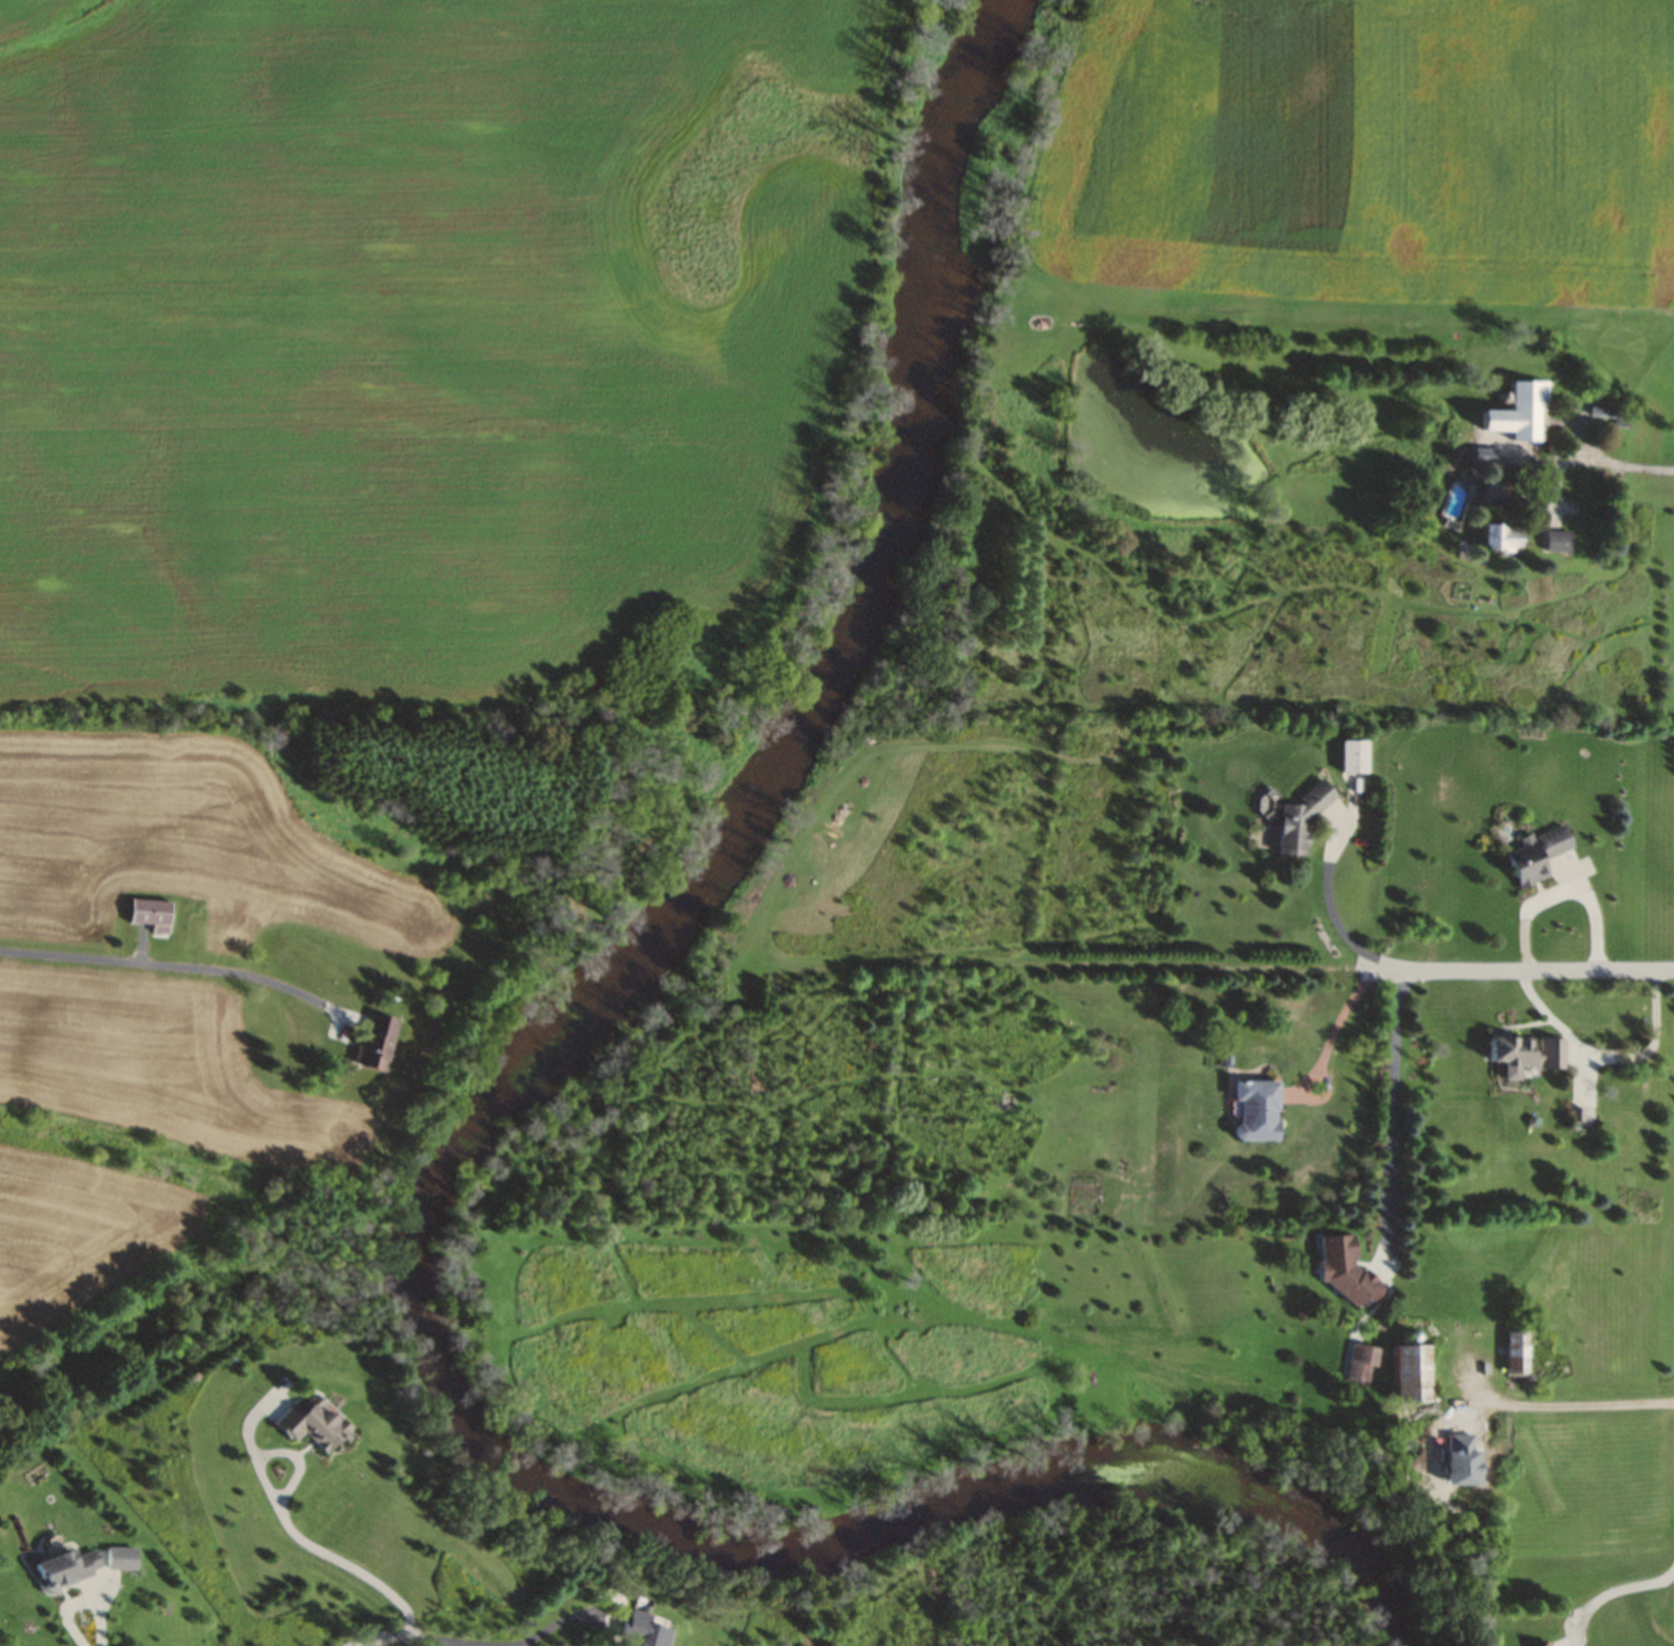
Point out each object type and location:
building: (1520, 410)
building: (1483, 454)
road: (1631, 460)
building: (1501, 536)
building: (1557, 539)
building: (1354, 755)
building: (1300, 819)
building: (1537, 853)
road: (1326, 888)
building: (151, 912)
road: (161, 964)
road: (1523, 966)
building: (376, 1043)
building: (1527, 1054)
building: (1257, 1109)
road: (1390, 1119)
building: (1579, 1120)
river: (447, 1154)
building: (1344, 1270)
building: (1519, 1361)
building: (1361, 1364)
building: (1413, 1374)
road: (1566, 1404)
building: (313, 1423)
building: (1435, 1469)
road: (289, 1528)
building: (123, 1558)
building: (69, 1569)
road: (1612, 1591)
road: (80, 1599)
building: (646, 1629)
road: (539, 1632)
road: (412, 1637)
building: (1548, 1645)

